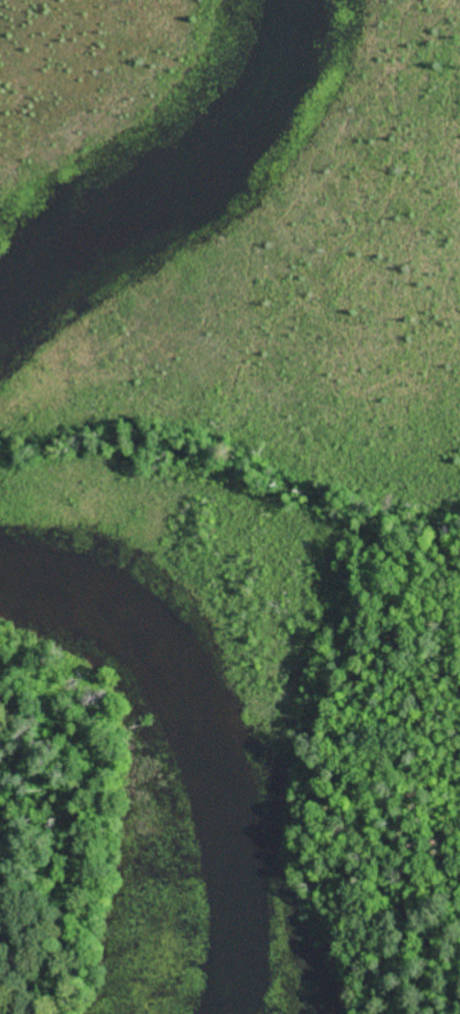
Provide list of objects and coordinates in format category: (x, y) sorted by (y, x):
river: (173, 165)
river: (194, 743)

